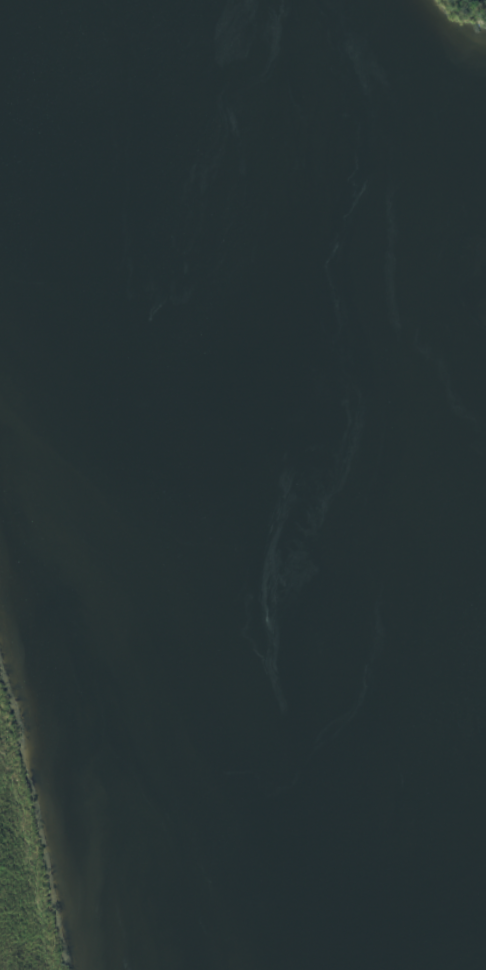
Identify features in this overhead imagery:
river: (268, 478)

